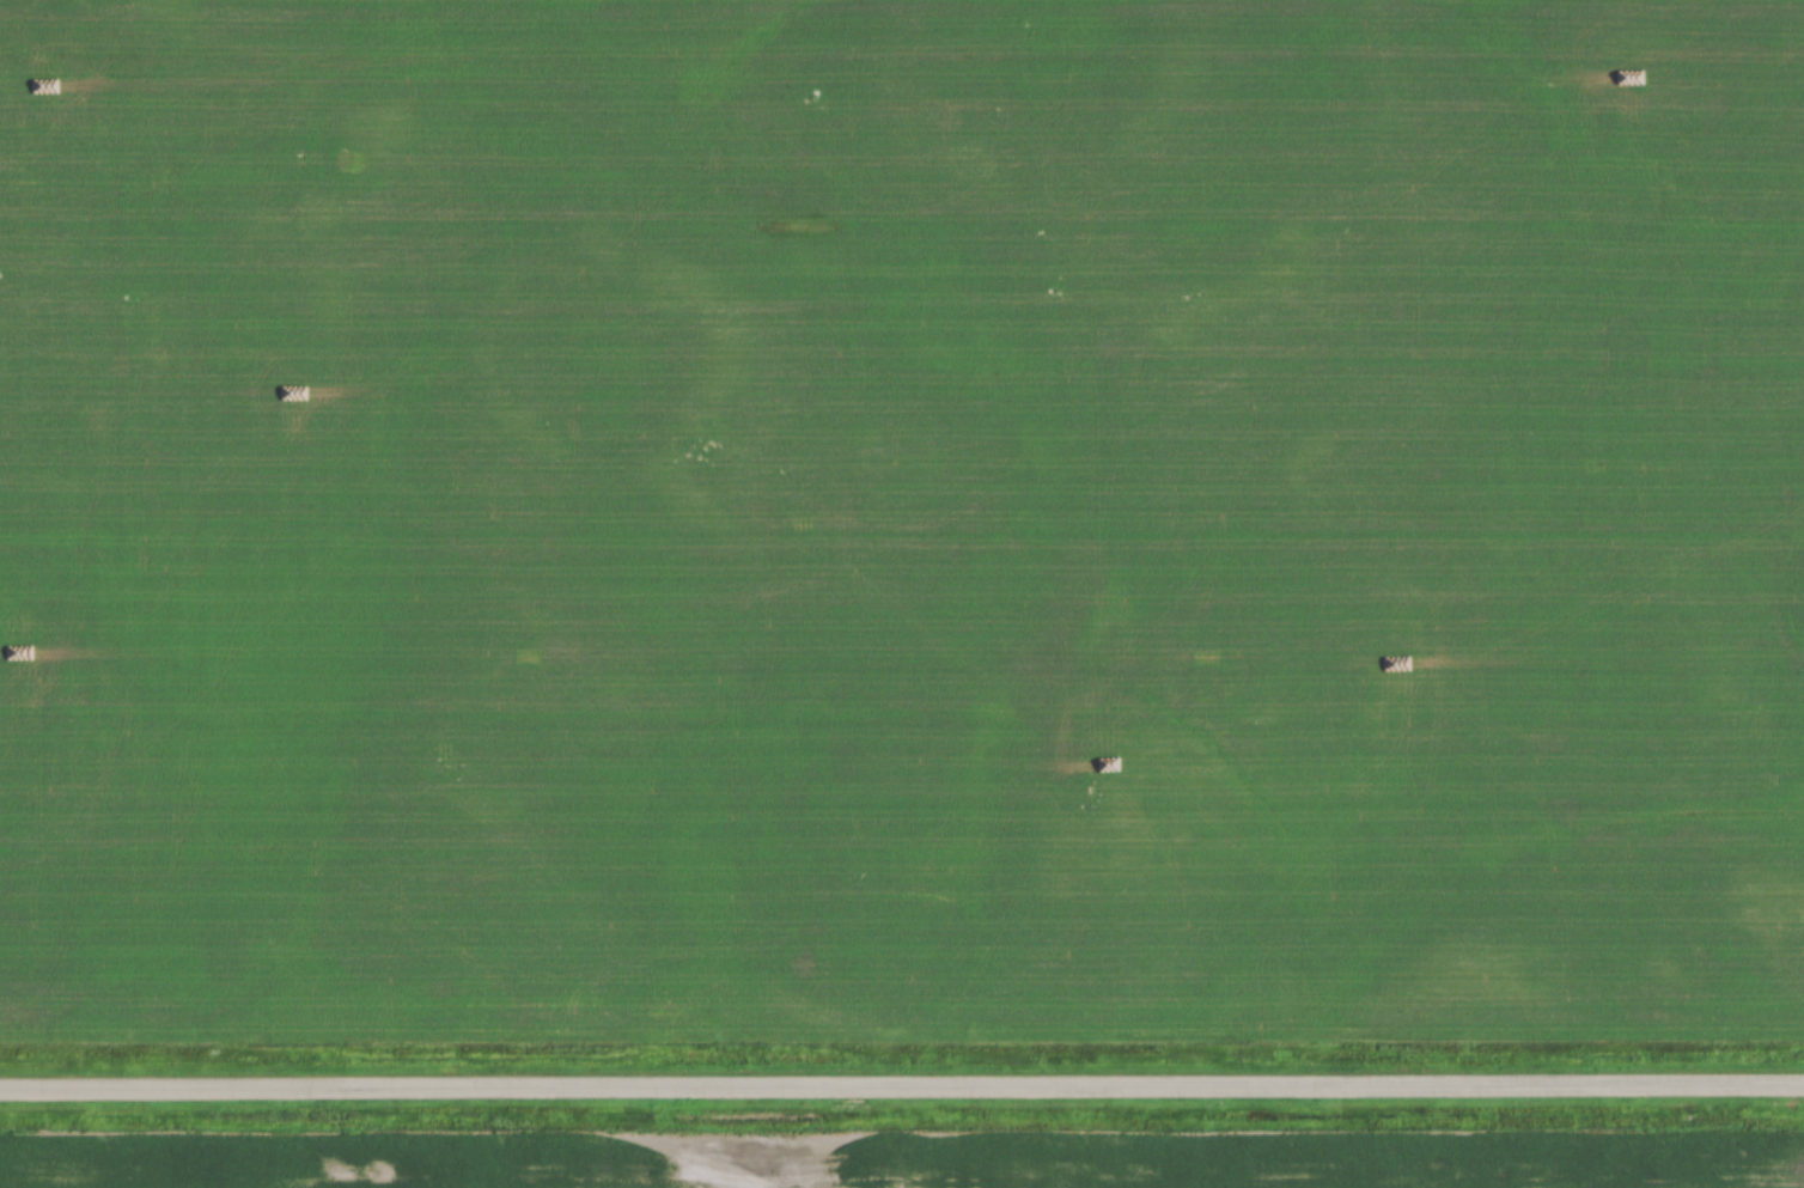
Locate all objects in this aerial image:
road: (901, 1085)

